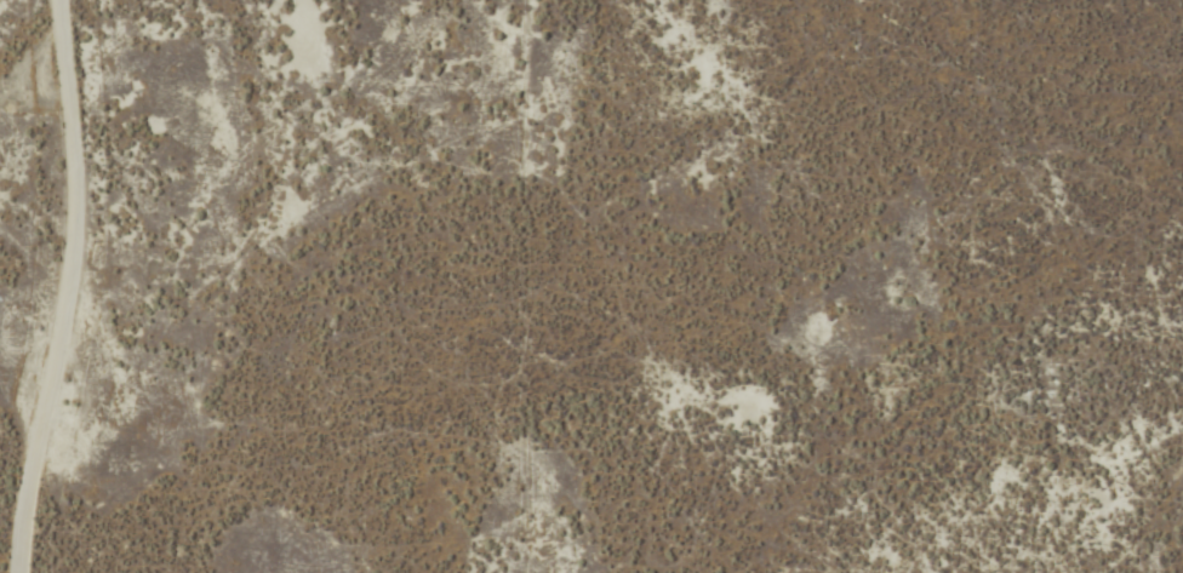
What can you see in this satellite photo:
road: (85, 288)
crop: (299, 338)

